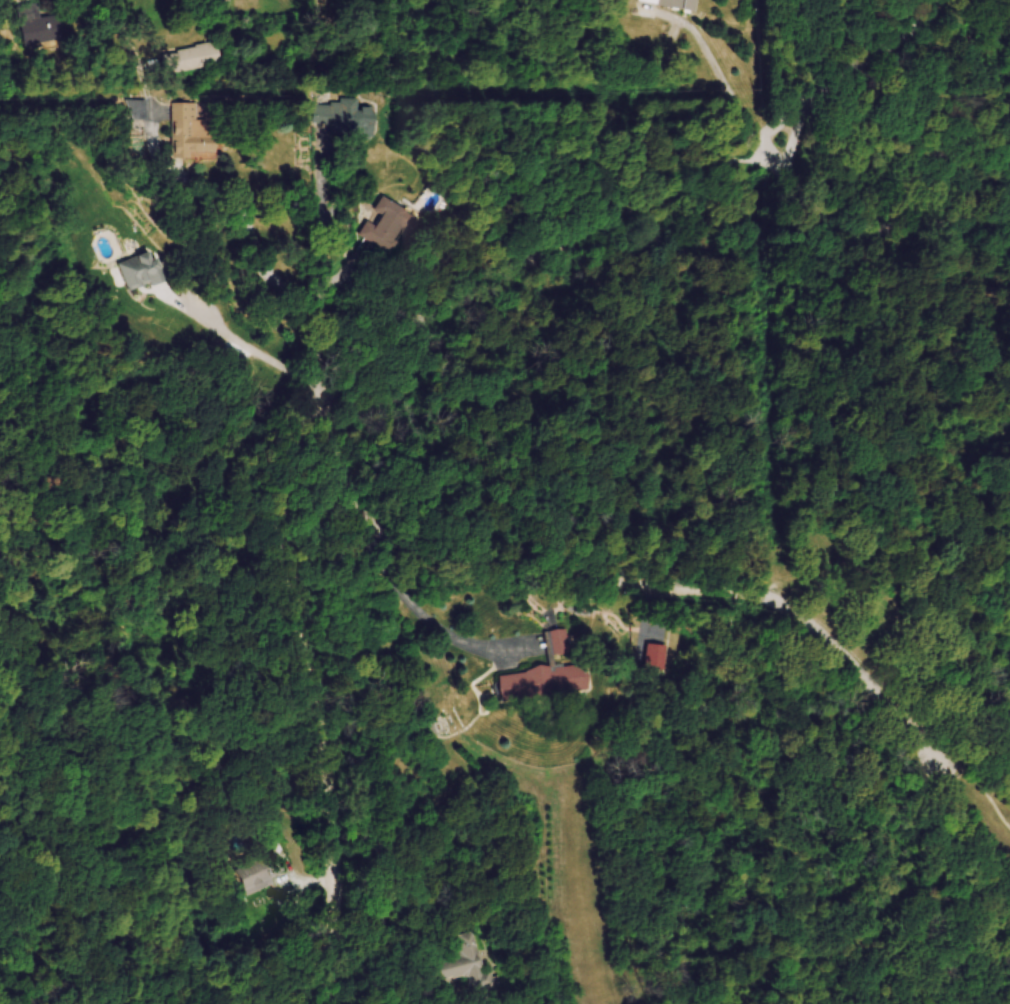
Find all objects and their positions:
building: (674, 4)
building: (40, 26)
building: (195, 59)
road: (713, 61)
road: (860, 73)
building: (141, 111)
building: (352, 119)
building: (196, 134)
road: (801, 136)
road: (758, 160)
road: (220, 194)
road: (326, 211)
building: (390, 225)
road: (867, 229)
road: (537, 262)
building: (143, 273)
road: (350, 277)
road: (242, 345)
road: (325, 347)
park: (880, 503)
road: (617, 581)
road: (431, 620)
building: (563, 644)
building: (548, 685)
road: (322, 699)
parking lot: (951, 767)
road: (993, 788)
building: (265, 875)
building: (472, 965)

